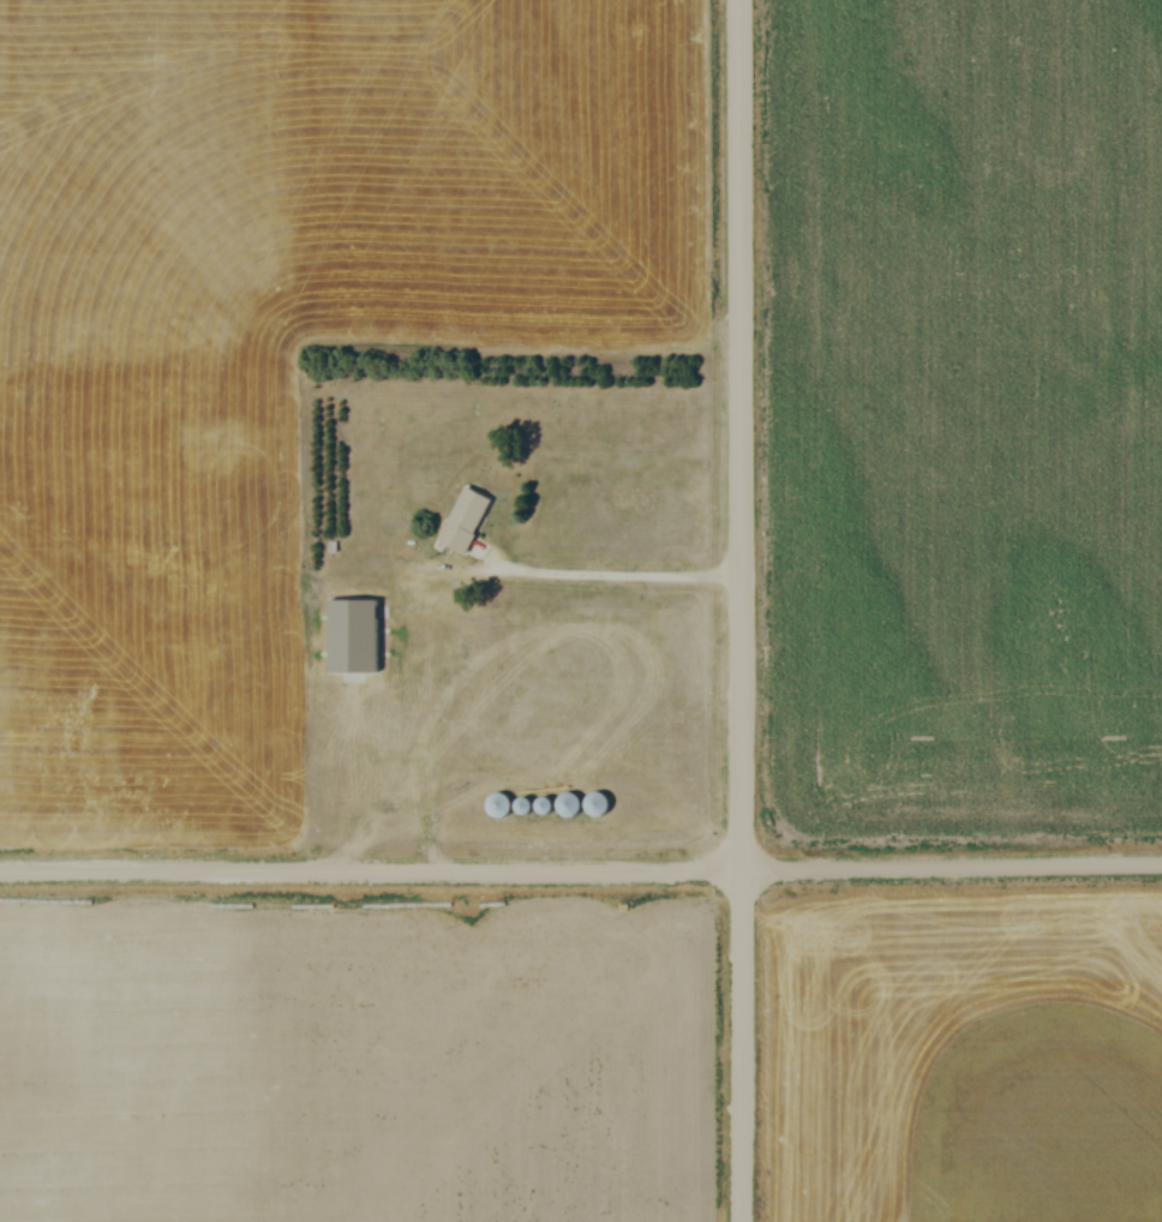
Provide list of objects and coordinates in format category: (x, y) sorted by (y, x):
crop: (964, 413)
building: (463, 515)
road: (573, 576)
road: (743, 610)
building: (354, 634)
building: (498, 805)
road: (581, 871)

